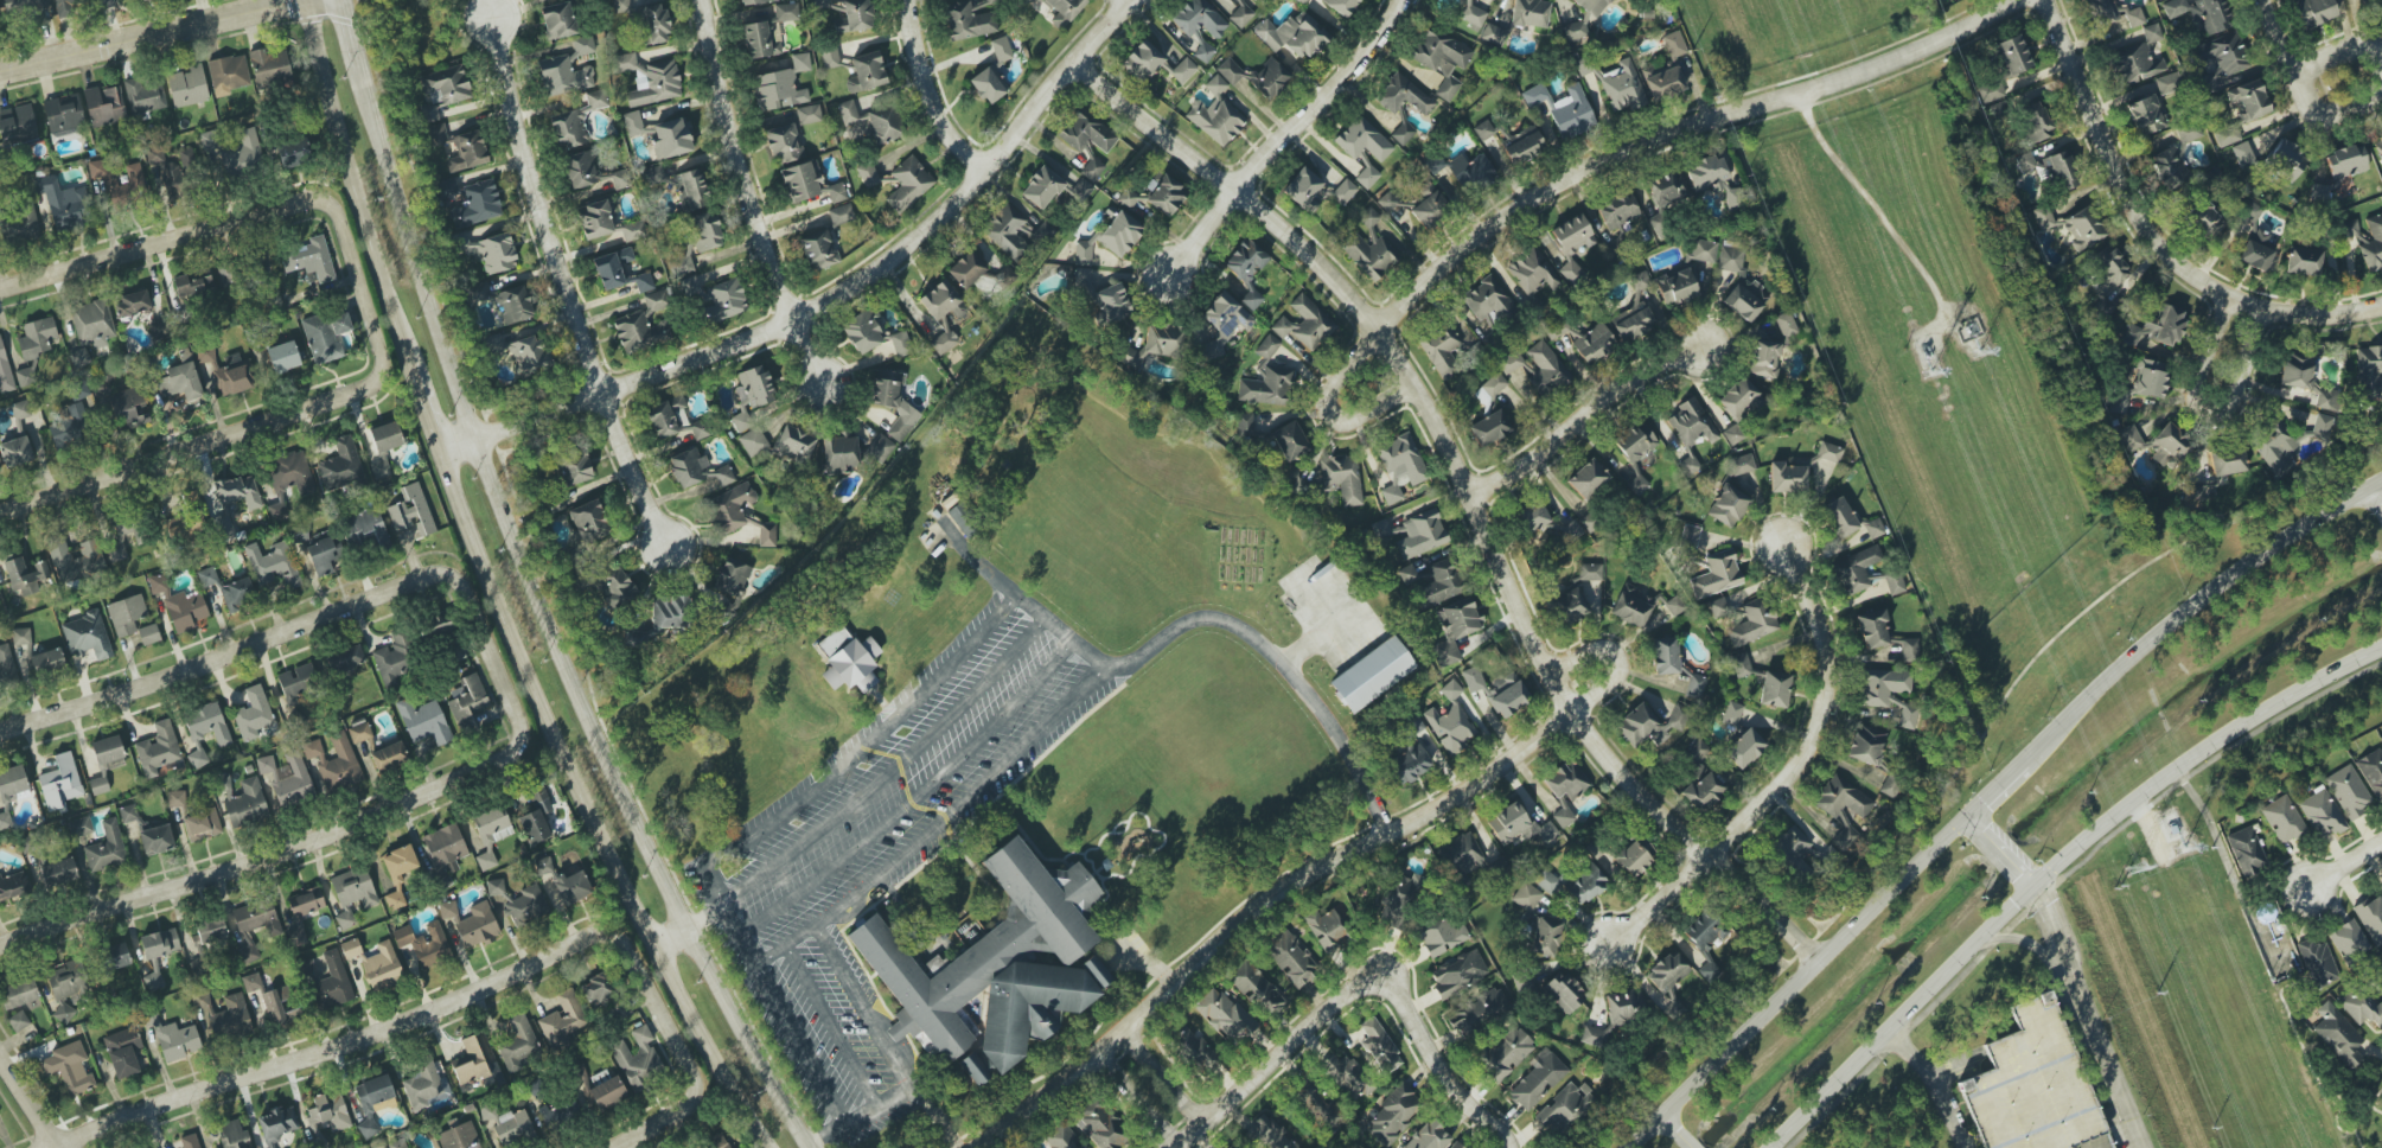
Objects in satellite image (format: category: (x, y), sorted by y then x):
building: (1253, 0)
building: (2159, 0)
building: (753, 1)
building: (1026, 1)
building: (1301, 1)
building: (820, 2)
building: (2373, 2)
building: (106, 4)
road: (1125, 5)
building: (68, 6)
building: (620, 6)
building: (1340, 6)
building: (1591, 6)
building: (24, 7)
road: (487, 7)
building: (1062, 12)
building: (2313, 12)
building: (1530, 13)
building: (2113, 13)
building: (2201, 13)
building: (1240, 15)
building: (1473, 15)
building: (855, 17)
building: (1198, 18)
building: (969, 19)
building: (557, 20)
building: (652, 24)
building: (1573, 31)
building: (766, 32)
park: (422, 33)
building: (2151, 33)
road: (2279, 33)
road: (349, 34)
building: (1493, 34)
road: (148, 36)
building: (1292, 36)
building: (1673, 44)
building: (582, 45)
road: (2341, 47)
building: (1001, 49)
building: (1203, 52)
building: (2012, 55)
building: (829, 57)
building: (2221, 58)
building: (1441, 59)
building: (1142, 60)
building: (800, 62)
building: (2135, 64)
building: (269, 66)
building: (1182, 70)
building: (1230, 71)
building: (866, 72)
building: (228, 74)
building: (563, 76)
building: (650, 79)
building: (1663, 83)
building: (2167, 83)
building: (988, 84)
building: (187, 87)
building: (1621, 87)
building: (442, 89)
building: (777, 90)
building: (1990, 91)
building: (145, 95)
building: (1401, 95)
road: (945, 97)
building: (104, 106)
building: (1563, 109)
building: (2242, 109)
road: (2329, 113)
building: (1215, 114)
building: (2145, 115)
building: (575, 121)
building: (873, 121)
building: (2033, 122)
building: (632, 123)
building: (1483, 130)
building: (1086, 132)
road: (1688, 132)
building: (2188, 132)
building: (1403, 133)
building: (438, 134)
road: (1281, 136)
building: (671, 139)
building: (210, 140)
building: (1362, 140)
building: (2377, 145)
building: (1522, 146)
building: (467, 151)
building: (242, 153)
building: (290, 153)
building: (2242, 154)
building: (2286, 159)
building: (2024, 161)
building: (2345, 161)
building: (2169, 168)
building: (580, 170)
building: (1091, 170)
building: (1464, 171)
building: (2059, 171)
building: (167, 173)
building: (867, 174)
road: (2129, 174)
building: (1367, 177)
building: (619, 179)
building: (1713, 180)
building: (120, 181)
building: (809, 183)
road: (349, 184)
building: (908, 184)
building: (448, 187)
building: (1041, 187)
building: (1081, 189)
building: (1666, 189)
building: (690, 190)
building: (1303, 190)
building: (1343, 191)
building: (2318, 192)
building: (1156, 194)
road: (308, 202)
road: (762, 202)
building: (1388, 202)
building: (62, 203)
building: (477, 204)
building: (1429, 204)
building: (1617, 210)
building: (841, 213)
building: (2043, 217)
building: (2204, 219)
building: (19, 222)
building: (605, 222)
building: (704, 231)
building: (1007, 231)
building: (2367, 240)
building: (2256, 242)
building: (1572, 245)
building: (817, 249)
building: (485, 251)
building: (1701, 251)
building: (1083, 254)
building: (1368, 254)
building: (309, 259)
building: (2303, 261)
building: (681, 262)
building: (966, 269)
building: (619, 272)
building: (1532, 272)
building: (2107, 272)
building: (226, 276)
building: (192, 282)
building: (1675, 286)
building: (1741, 286)
building: (477, 292)
road: (569, 299)
building: (1100, 299)
building: (656, 300)
building: (721, 301)
road: (839, 301)
building: (1487, 301)
building: (515, 305)
building: (2102, 307)
building: (1633, 313)
building: (944, 314)
road: (2319, 314)
building: (1304, 323)
building: (91, 324)
building: (1222, 324)
building: (159, 327)
building: (2157, 327)
building: (640, 331)
building: (871, 334)
building: (325, 336)
building: (37, 337)
building: (1592, 343)
building: (1151, 346)
power tower: (1980, 347)
building: (1770, 349)
building: (519, 351)
building: (1442, 352)
building: (283, 357)
building: (78, 359)
power tower: (1930, 363)
building: (1533, 371)
building: (2368, 371)
building: (5, 372)
building: (228, 372)
building: (1266, 377)
building: (180, 378)
building: (2305, 381)
building: (2141, 384)
building: (1489, 389)
building: (751, 395)
building: (1739, 400)
building: (893, 402)
road: (424, 407)
building: (130, 408)
road: (1327, 410)
building: (19, 413)
road: (2203, 415)
building: (664, 416)
building: (70, 422)
building: (1245, 423)
road: (1585, 425)
building: (690, 426)
building: (2322, 427)
building: (1488, 428)
building: (1688, 430)
building: (1732, 434)
building: (385, 436)
building: (2129, 438)
building: (1290, 440)
building: (752, 441)
building: (1635, 442)
building: (2167, 444)
building: (793, 445)
building: (881, 448)
building: (2275, 448)
building: (841, 451)
building: (15, 452)
building: (1828, 452)
building: (2227, 461)
road: (136, 464)
building: (341, 464)
building: (1742, 464)
building: (1399, 466)
building: (381, 468)
building: (574, 471)
building: (697, 471)
building: (1342, 477)
building: (1787, 477)
building: (1586, 479)
building: (287, 480)
building: (1636, 484)
road: (2376, 496)
road: (1468, 499)
building: (1726, 505)
building: (729, 508)
building: (411, 511)
building: (1531, 517)
building: (1839, 517)
building: (588, 521)
building: (1588, 522)
building: (1873, 528)
building: (365, 529)
building: (1572, 529)
building: (1412, 534)
building: (766, 535)
building: (1688, 536)
building: (116, 540)
building: (323, 555)
building: (74, 559)
building: (272, 566)
building: (1413, 573)
building: (1588, 573)
building: (1851, 573)
building: (1717, 574)
building: (19, 576)
building: (206, 576)
building: (733, 576)
building: (1439, 583)
building: (614, 587)
building: (237, 594)
road: (1014, 599)
road: (2188, 604)
building: (178, 605)
building: (1570, 606)
building: (1629, 607)
building: (126, 614)
building: (660, 618)
building: (1750, 623)
road: (544, 624)
road: (1187, 624)
building: (439, 626)
building: (1455, 629)
building: (1882, 633)
building: (148, 634)
building: (87, 636)
building: (20, 637)
road: (1064, 643)
building: (1663, 656)
building: (394, 657)
building: (344, 658)
building: (43, 661)
building: (850, 662)
building: (1741, 665)
building: (6, 668)
road: (178, 674)
building: (1371, 674)
building: (296, 682)
building: (1693, 683)
building: (1451, 689)
building: (1774, 689)
building: (1497, 690)
building: (1890, 694)
building: (467, 702)
building: (253, 714)
building: (1678, 716)
building: (423, 722)
building: (1412, 723)
building: (1637, 725)
building: (1449, 727)
building: (205, 731)
building: (359, 732)
building: (1865, 744)
building: (158, 748)
building: (1743, 748)
building: (389, 757)
building: (106, 761)
building: (334, 763)
building: (1409, 764)
building: (2371, 772)
road: (1800, 776)
building: (287, 778)
building: (1699, 779)
building: (59, 783)
building: (13, 784)
building: (1565, 789)
road: (1998, 790)
building: (2348, 792)
building: (175, 798)
building: (242, 801)
road: (911, 801)
road: (588, 803)
road: (402, 806)
building: (1841, 808)
building: (128, 814)
building: (2319, 814)
building: (535, 815)
building: (2281, 819)
building: (5, 821)
road: (940, 823)
building: (202, 824)
building: (492, 825)
building: (79, 827)
building: (1518, 827)
building: (157, 840)
parking lot: (883, 842)
building: (106, 848)
power tower: (2184, 848)
building: (1790, 849)
building: (443, 852)
building: (2246, 852)
building: (1461, 856)
building: (1635, 856)
building: (485, 860)
building: (543, 866)
road: (2046, 866)
road: (1322, 868)
road: (2346, 868)
power tower: (2137, 869)
building: (58, 872)
building: (397, 873)
road: (2062, 875)
building: (1546, 880)
building: (2381, 884)
building: (13, 885)
building: (1584, 885)
building: (573, 886)
building: (353, 888)
road: (720, 895)
building: (1526, 895)
building: (1398, 898)
building: (516, 901)
building: (447, 908)
building: (304, 913)
road: (732, 917)
building: (345, 918)
building: (2371, 918)
road: (702, 921)
building: (254, 924)
building: (477, 924)
building: (210, 925)
building: (1327, 927)
building: (1701, 930)
building: (1439, 936)
building: (1545, 937)
road: (666, 940)
building: (2348, 940)
building: (159, 943)
building: (424, 944)
road: (748, 949)
building: (116, 956)
building: (1290, 957)
building: (376, 963)
building: (2317, 963)
building: (992, 969)
building: (1457, 972)
building: (1667, 972)
road: (2069, 974)
building: (65, 980)
building: (153, 980)
road: (1797, 980)
building: (2376, 980)
building: (330, 982)
building: (595, 988)
building: (1256, 988)
building: (1563, 991)
building: (18, 994)
building: (274, 1002)
road: (860, 1003)
building: (1621, 1007)
building: (2362, 1007)
building: (1477, 1012)
building: (1224, 1015)
building: (224, 1016)
building: (18, 1021)
building: (563, 1021)
road: (669, 1021)
road: (830, 1025)
building: (1592, 1037)
building: (2339, 1037)
building: (173, 1038)
building: (518, 1044)
building: (1379, 1046)
building: (1193, 1050)
building: (122, 1052)
building: (1505, 1053)
road: (1436, 1054)
road: (304, 1057)
building: (472, 1059)
building: (638, 1059)
road: (1277, 1061)
road: (810, 1063)
building: (69, 1069)
building: (1347, 1076)
building: (1538, 1079)
road: (1169, 1083)
road: (1924, 1083)
building: (426, 1086)
building: (2032, 1086)
parking garage: (2032, 1086)
park: (2332, 1088)
road: (890, 1092)
building: (608, 1093)
building: (371, 1102)
road: (27, 1103)
road: (1141, 1106)
building: (1317, 1106)
building: (1562, 1110)
building: (328, 1112)
road: (858, 1112)
building: (555, 1114)
building: (1392, 1116)
building: (277, 1123)
building: (1103, 1124)
building: (509, 1125)
road: (1518, 1130)
road: (1678, 1130)
building: (232, 1135)
building: (1270, 1135)
building: (460, 1136)
building: (1429, 1136)
building: (1061, 1137)
building: (190, 1141)
building: (717, 1141)
building: (269, 1146)
building: (1454, 1146)
building: (1227, 1147)

